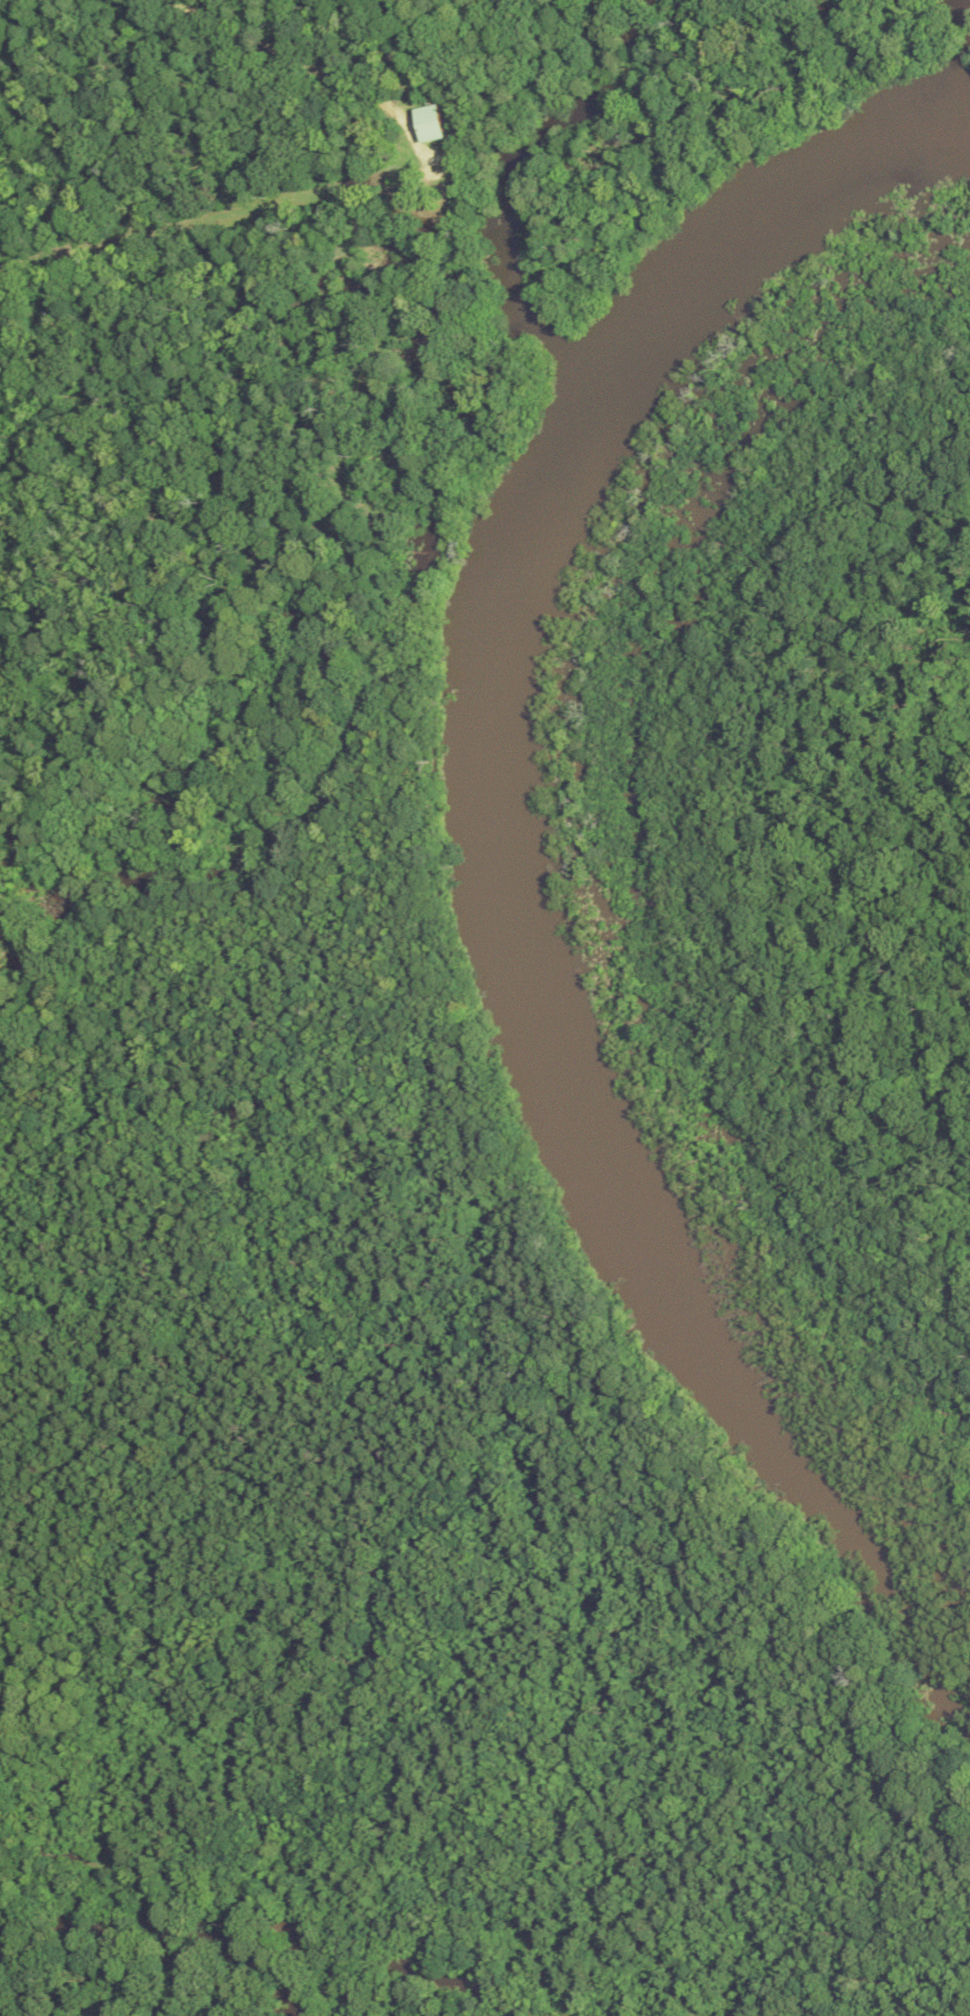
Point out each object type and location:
road: (278, 49)
building: (435, 123)

